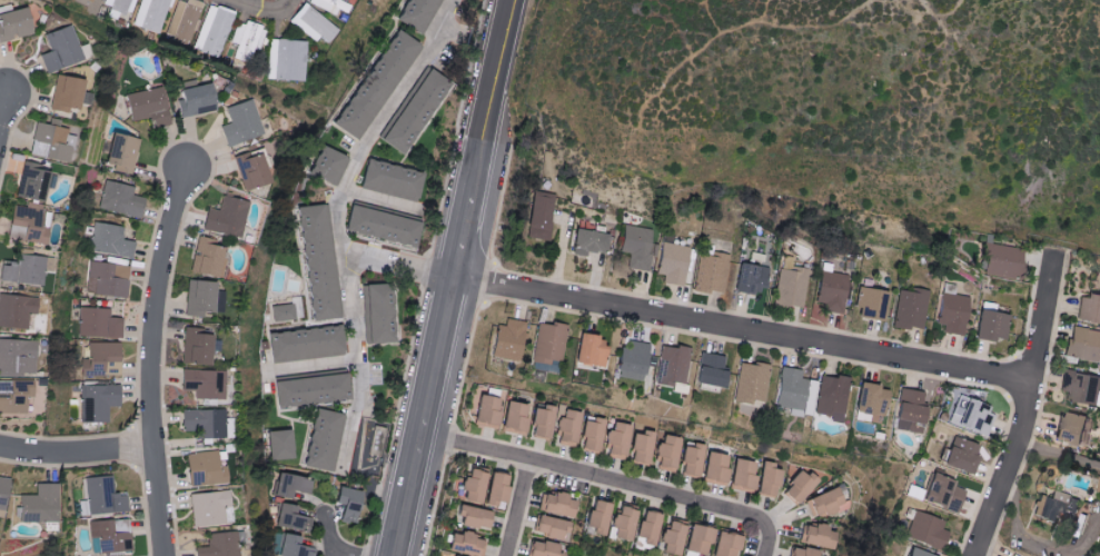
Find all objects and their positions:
building: (95, 0)
building: (122, 4)
building: (331, 6)
building: (422, 12)
road: (266, 13)
building: (152, 14)
building: (186, 19)
building: (315, 23)
building: (18, 24)
building: (214, 30)
building: (247, 39)
building: (63, 49)
building: (288, 60)
building: (380, 85)
building: (70, 92)
building: (199, 99)
building: (155, 107)
building: (418, 109)
building: (245, 122)
road: (7, 132)
building: (53, 142)
building: (125, 149)
building: (333, 165)
road: (355, 169)
building: (257, 170)
building: (397, 179)
building: (36, 181)
building: (123, 199)
building: (536, 215)
building: (231, 217)
building: (31, 225)
building: (388, 226)
building: (113, 240)
building: (587, 242)
building: (635, 247)
building: (211, 258)
building: (999, 261)
building: (323, 262)
building: (673, 262)
building: (29, 269)
building: (710, 272)
road: (452, 277)
building: (110, 279)
building: (749, 279)
building: (790, 287)
building: (831, 291)
building: (202, 297)
building: (869, 304)
building: (1088, 308)
building: (910, 309)
building: (18, 310)
building: (291, 310)
building: (385, 312)
building: (951, 314)
building: (101, 322)
road: (745, 326)
building: (990, 326)
building: (507, 340)
building: (311, 342)
building: (548, 342)
building: (1082, 344)
building: (199, 347)
building: (588, 350)
road: (358, 353)
building: (18, 356)
building: (107, 358)
road: (157, 358)
building: (630, 360)
building: (672, 365)
building: (710, 370)
building: (206, 384)
building: (751, 384)
building: (1081, 388)
building: (317, 390)
building: (794, 391)
building: (16, 396)
building: (832, 398)
building: (869, 399)
building: (101, 401)
road: (1031, 407)
building: (486, 409)
building: (909, 410)
building: (969, 416)
building: (513, 418)
building: (541, 421)
building: (207, 423)
building: (566, 426)
building: (1068, 428)
building: (591, 434)
building: (328, 439)
building: (615, 441)
building: (284, 445)
building: (640, 448)
road: (1061, 450)
road: (78, 451)
building: (665, 454)
building: (960, 456)
building: (690, 460)
building: (713, 468)
building: (208, 469)
building: (741, 475)
road: (612, 477)
building: (766, 480)
building: (296, 485)
building: (468, 486)
building: (796, 487)
building: (492, 489)
building: (4, 494)
building: (941, 494)
building: (105, 497)
building: (355, 503)
building: (823, 503)
building: (43, 504)
building: (554, 505)
road: (517, 506)
building: (214, 508)
building: (1058, 508)
building: (295, 517)
building: (468, 517)
building: (594, 518)
building: (620, 524)
building: (547, 527)
building: (644, 528)
building: (926, 530)
road: (328, 532)
building: (113, 536)
building: (816, 536)
building: (668, 539)
building: (694, 540)
building: (459, 544)
building: (222, 545)
building: (722, 545)
building: (295, 546)
road: (1043, 546)
building: (539, 549)
building: (800, 552)
building: (914, 553)
road: (345, 554)

